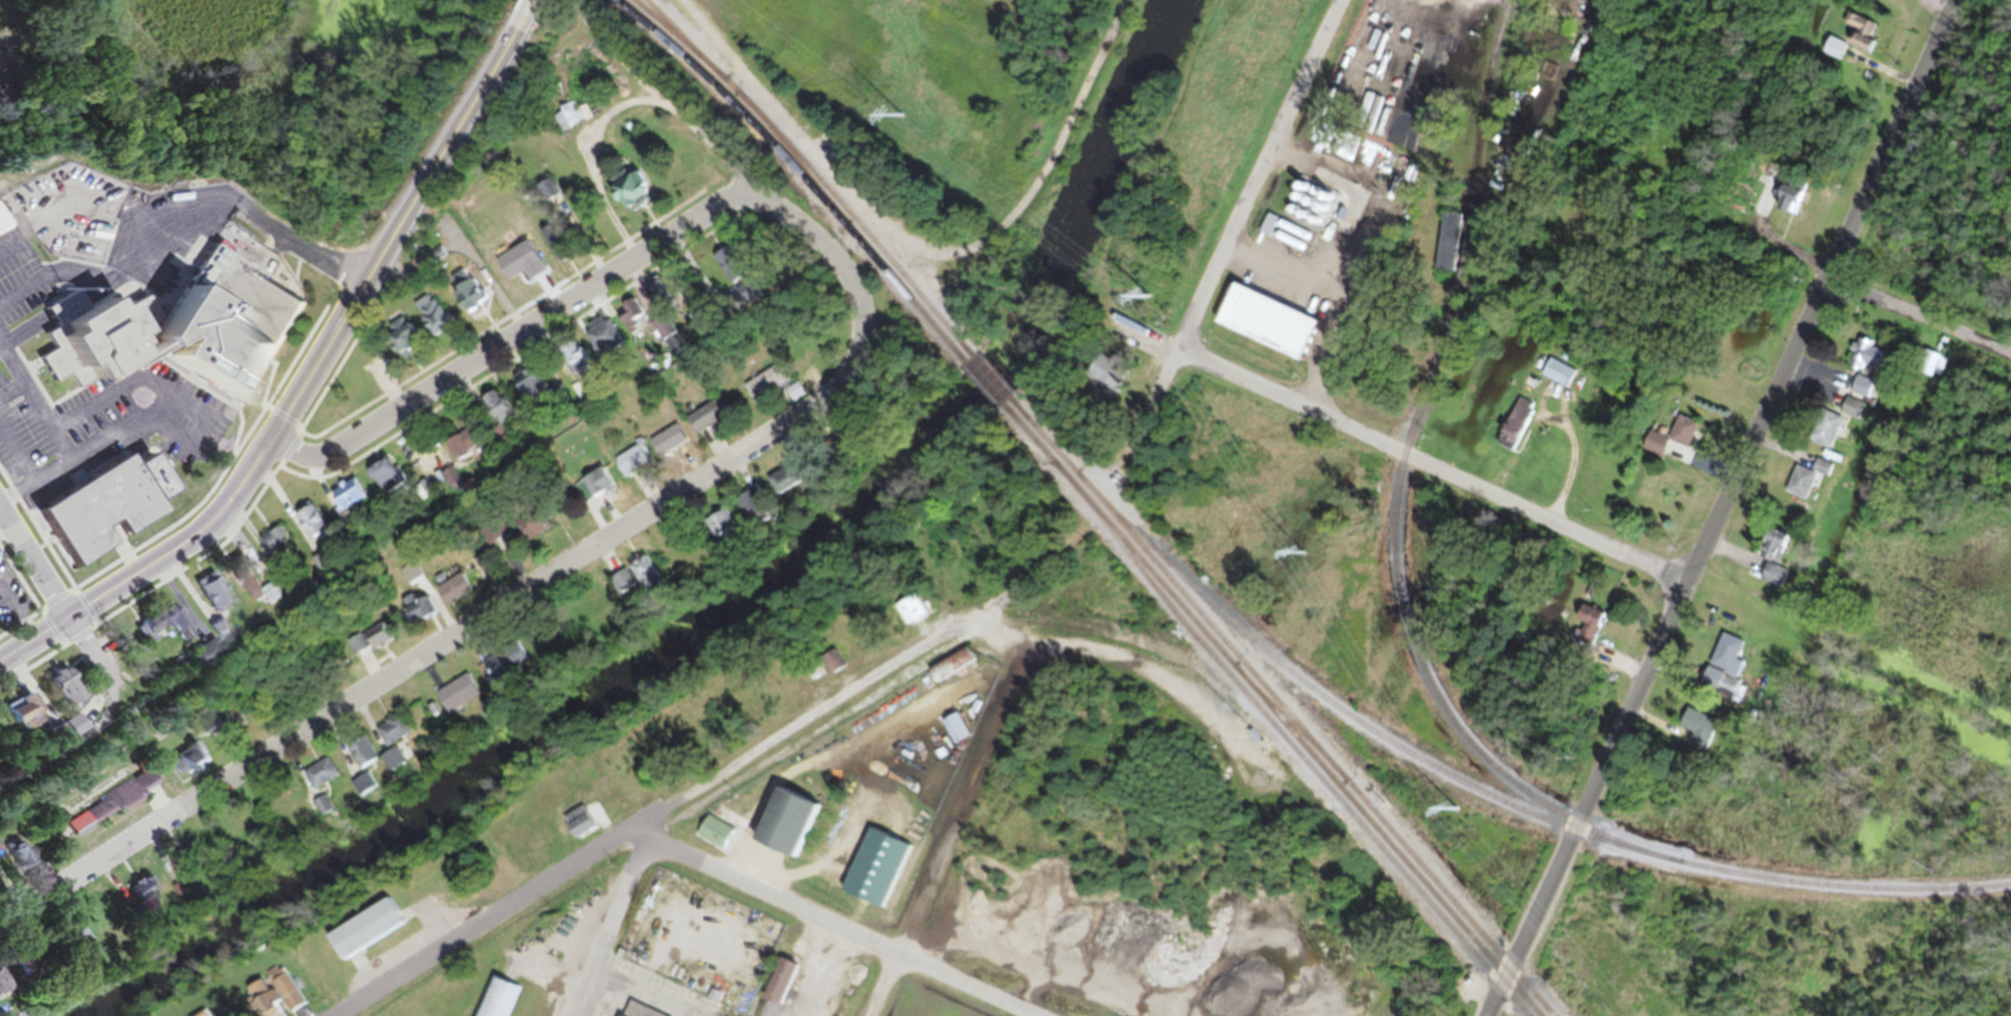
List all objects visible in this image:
building: (1882, 1)
road: (529, 12)
road: (606, 40)
building: (1864, 42)
railway: (681, 43)
railway: (682, 47)
building: (1834, 53)
road: (7, 73)
road: (1069, 100)
railway: (733, 107)
power tower: (902, 121)
building: (567, 122)
road: (705, 134)
railway: (793, 162)
building: (546, 196)
building: (626, 197)
building: (1307, 210)
building: (1791, 210)
road: (1242, 212)
road: (179, 216)
road: (998, 225)
railway: (858, 229)
building: (1281, 234)
building: (0, 235)
road: (298, 245)
building: (557, 248)
road: (8, 254)
road: (116, 262)
building: (1444, 263)
building: (508, 275)
road: (48, 282)
building: (464, 296)
building: (656, 296)
railway: (906, 301)
power tower: (1146, 301)
road: (1919, 317)
building: (627, 320)
building: (433, 323)
building: (189, 324)
building: (1263, 327)
road: (16, 340)
building: (601, 340)
road: (513, 341)
building: (403, 347)
building: (570, 361)
building: (1870, 365)
building: (1927, 368)
building: (1558, 379)
railway: (992, 384)
building: (1102, 384)
road: (307, 385)
building: (763, 391)
road: (11, 392)
railway: (985, 392)
building: (526, 393)
building: (554, 402)
road: (35, 405)
building: (494, 414)
building: (702, 422)
building: (1834, 430)
road: (182, 441)
road: (1571, 441)
building: (1671, 444)
building: (664, 447)
building: (459, 450)
road: (1395, 456)
road: (18, 457)
building: (632, 470)
building: (381, 482)
building: (1802, 487)
building: (784, 489)
building: (588, 492)
building: (343, 502)
building: (116, 504)
road: (1722, 508)
building: (751, 512)
road: (5, 529)
building: (306, 529)
building: (719, 531)
railway: (1122, 545)
building: (269, 547)
building: (503, 550)
road: (825, 558)
power tower: (1300, 559)
road: (33, 562)
building: (644, 580)
building: (238, 583)
road: (527, 590)
building: (452, 595)
railway: (1180, 597)
building: (207, 599)
building: (415, 614)
building: (909, 615)
building: (156, 628)
building: (1586, 631)
building: (211, 633)
building: (367, 644)
railway: (1418, 661)
building: (509, 665)
building: (831, 668)
building: (949, 672)
building: (57, 694)
building: (1726, 695)
building: (456, 699)
building: (12, 714)
railway: (1343, 717)
building: (61, 731)
building: (1697, 732)
building: (955, 733)
building: (406, 735)
railway: (1294, 735)
road: (982, 742)
railway: (1287, 748)
building: (360, 761)
building: (185, 766)
road: (697, 790)
building: (107, 808)
power tower: (1455, 814)
building: (577, 828)
building: (785, 833)
building: (713, 838)
railway: (1386, 847)
building: (16, 860)
park: (1150, 893)
building: (136, 901)
railway: (1448, 903)
road: (610, 926)
road: (850, 930)
building: (363, 935)
building: (68, 946)
building: (778, 989)
building: (283, 995)
building: (498, 1002)
road: (357, 1007)
building: (262, 1009)
building: (631, 1012)

